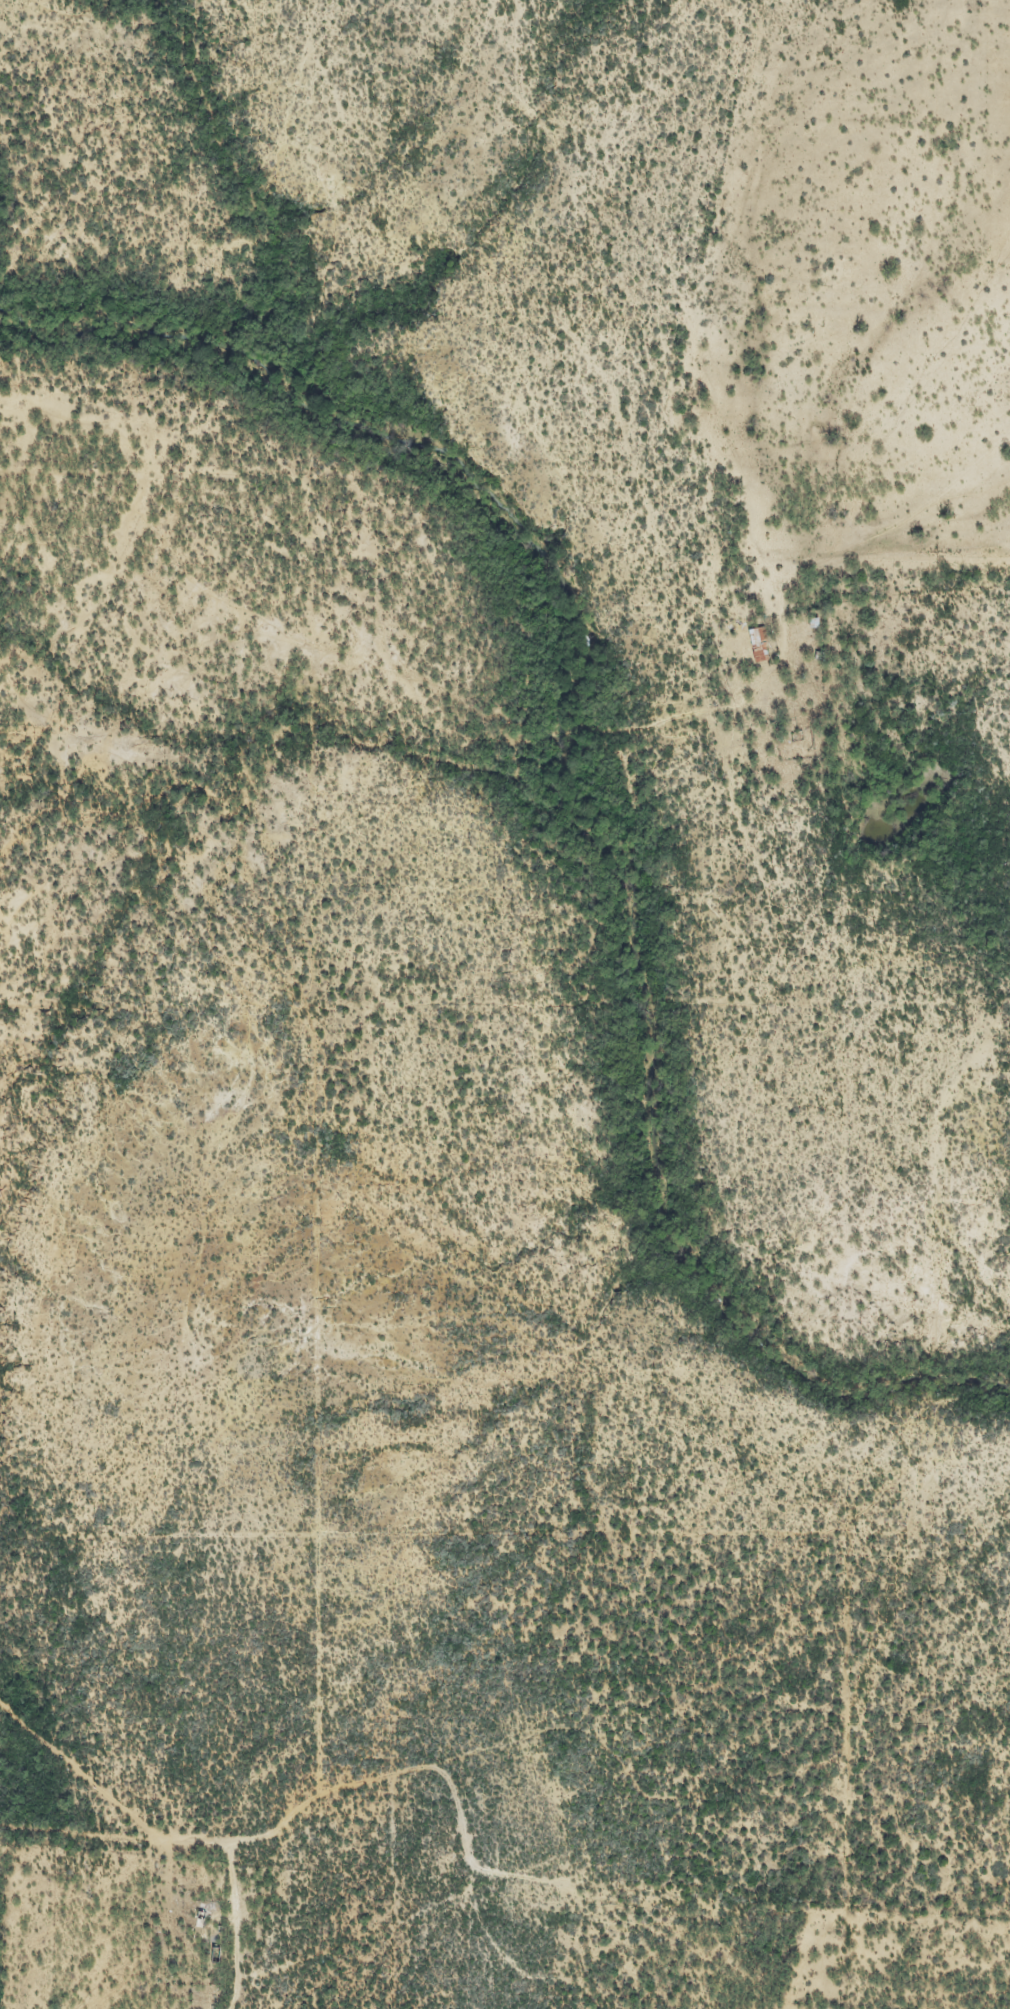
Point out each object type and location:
road: (143, 1831)

